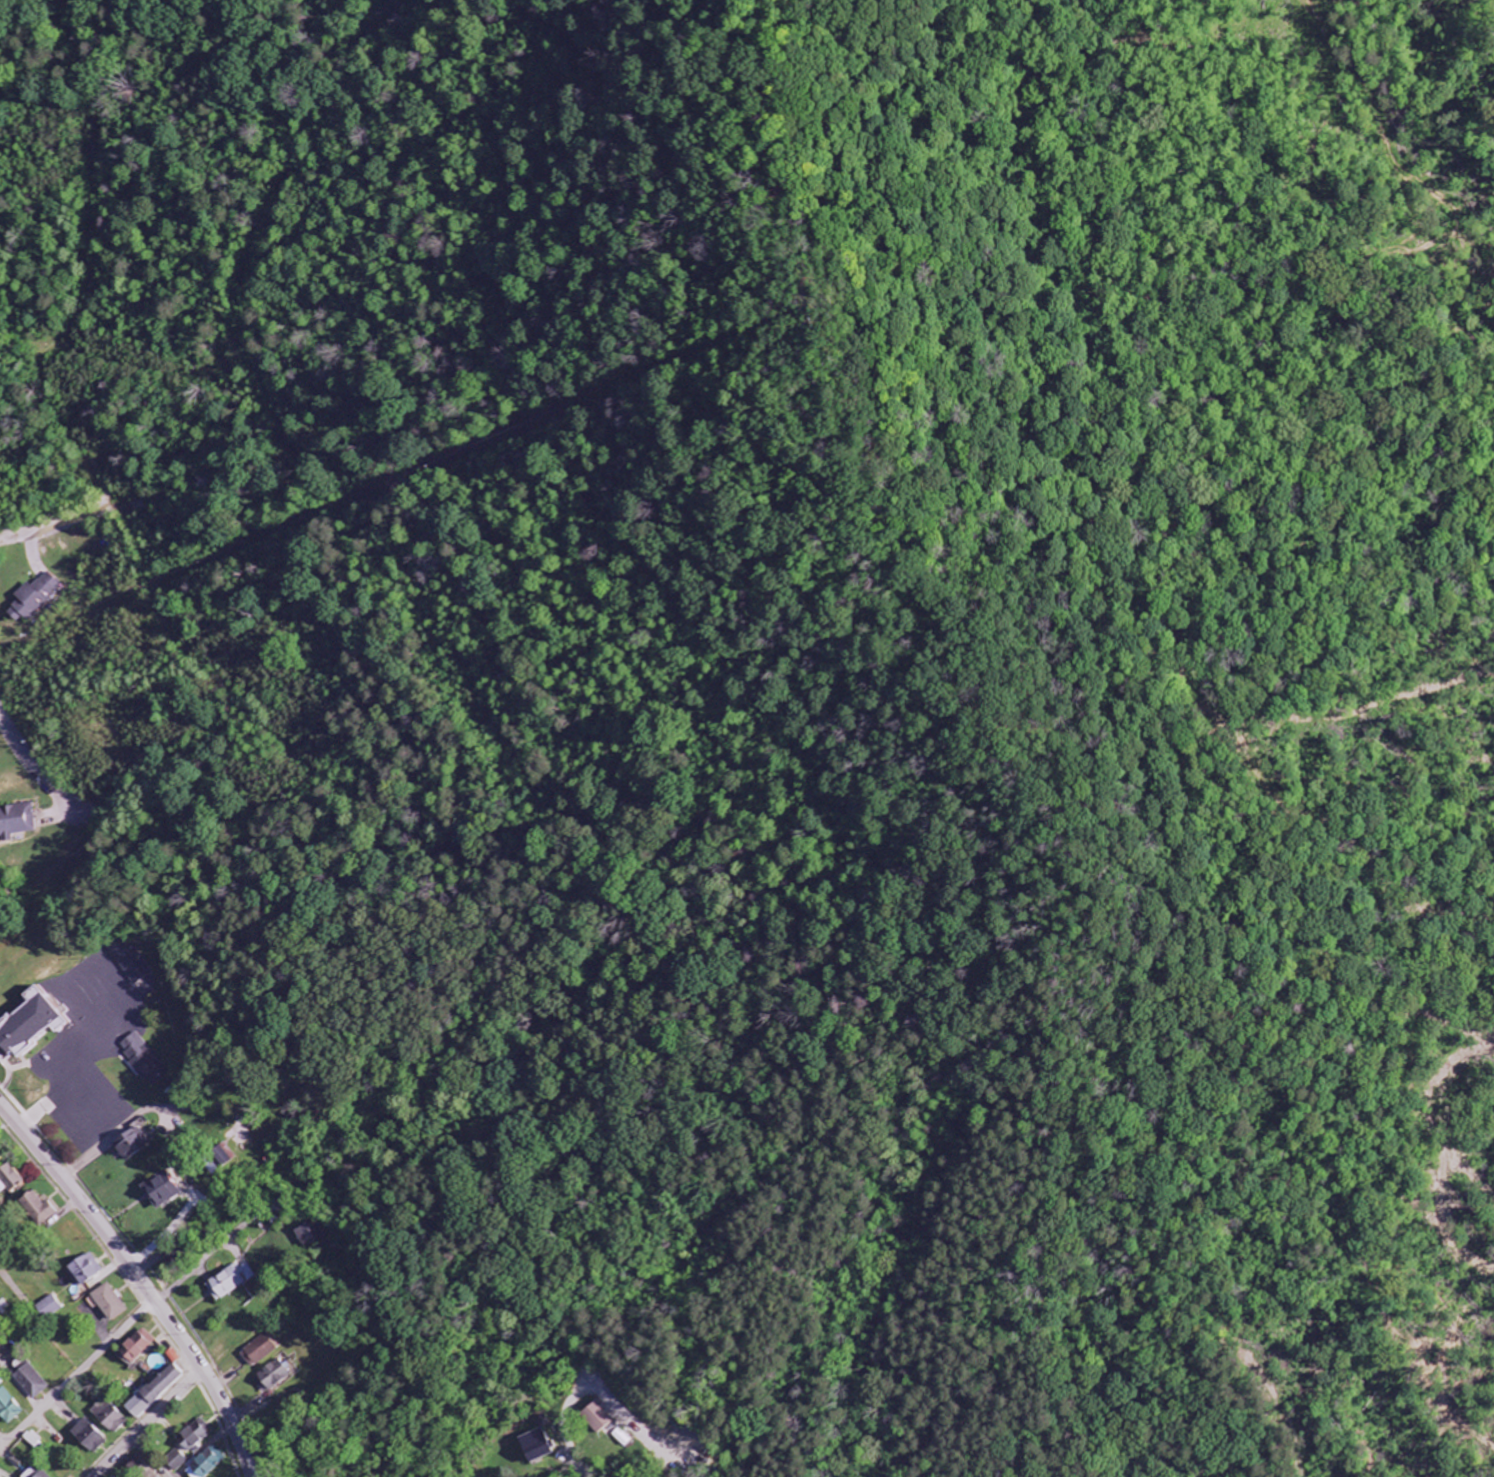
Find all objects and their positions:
road: (55, 526)
building: (33, 599)
road: (37, 772)
building: (17, 822)
building: (131, 961)
building: (31, 1027)
building: (146, 1060)
building: (132, 1144)
building: (226, 1158)
building: (10, 1179)
building: (164, 1190)
building: (42, 1209)
building: (314, 1234)
building: (175, 1256)
building: (87, 1270)
road: (142, 1280)
building: (231, 1281)
building: (111, 1302)
building: (52, 1307)
building: (5, 1309)
building: (138, 1346)
building: (262, 1350)
road: (78, 1375)
building: (274, 1376)
building: (33, 1381)
building: (156, 1391)
building: (9, 1407)
road: (894, 1411)
building: (112, 1417)
building: (598, 1417)
road: (148, 1422)
building: (196, 1435)
building: (91, 1437)
road: (4, 1438)
building: (35, 1439)
building: (538, 1446)
road: (580, 1462)
building: (208, 1463)
building: (174, 1465)
building: (36, 1472)

